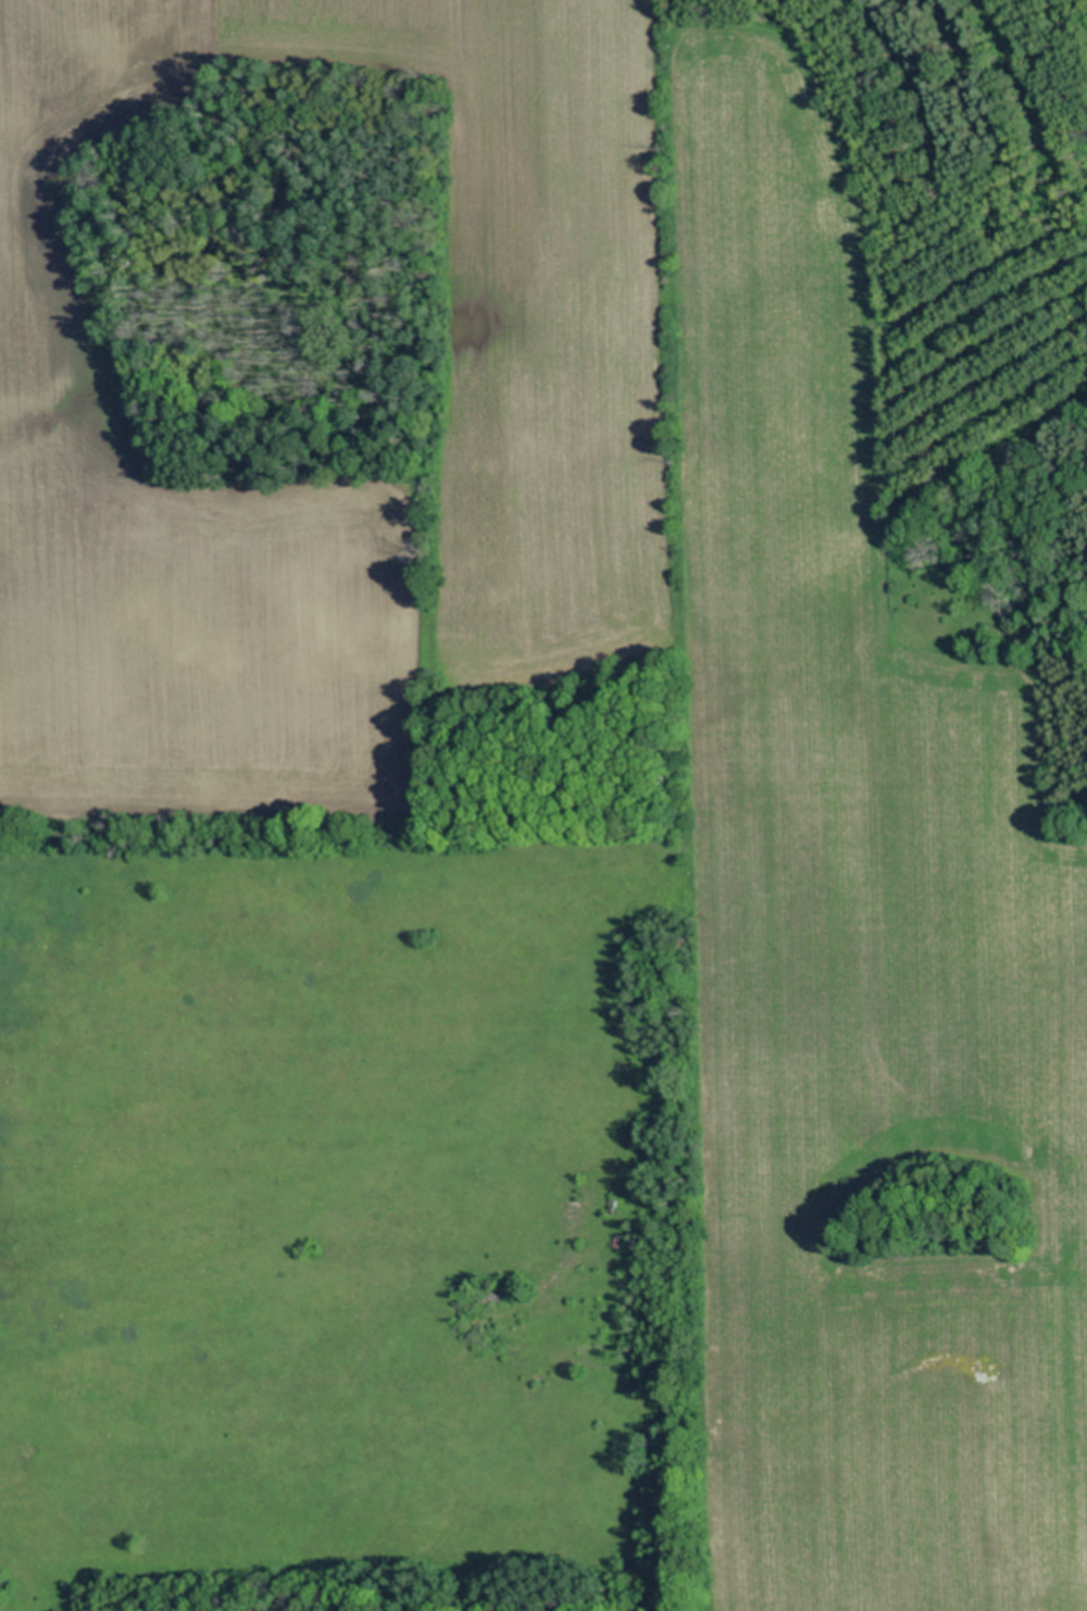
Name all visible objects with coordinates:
quarry: (886, 788)

